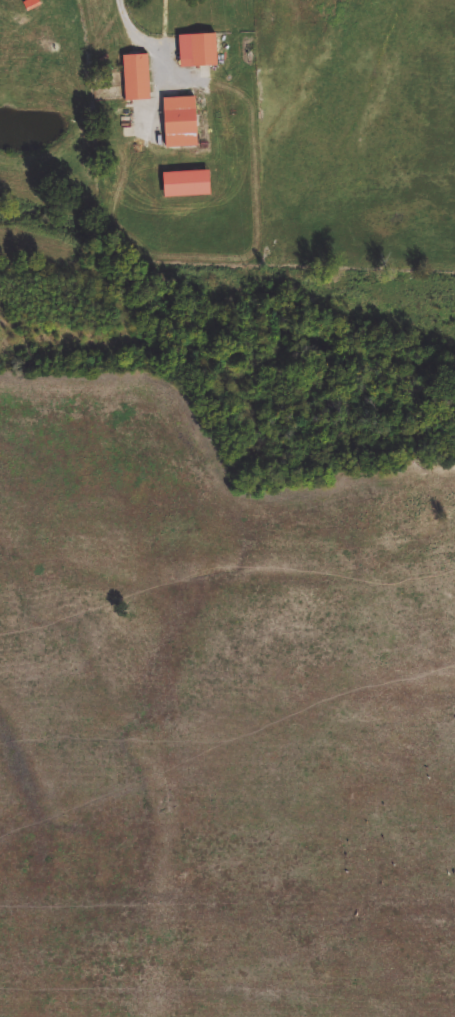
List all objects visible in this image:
road: (143, 36)
building: (199, 52)
building: (138, 78)
building: (182, 123)
building: (190, 185)

